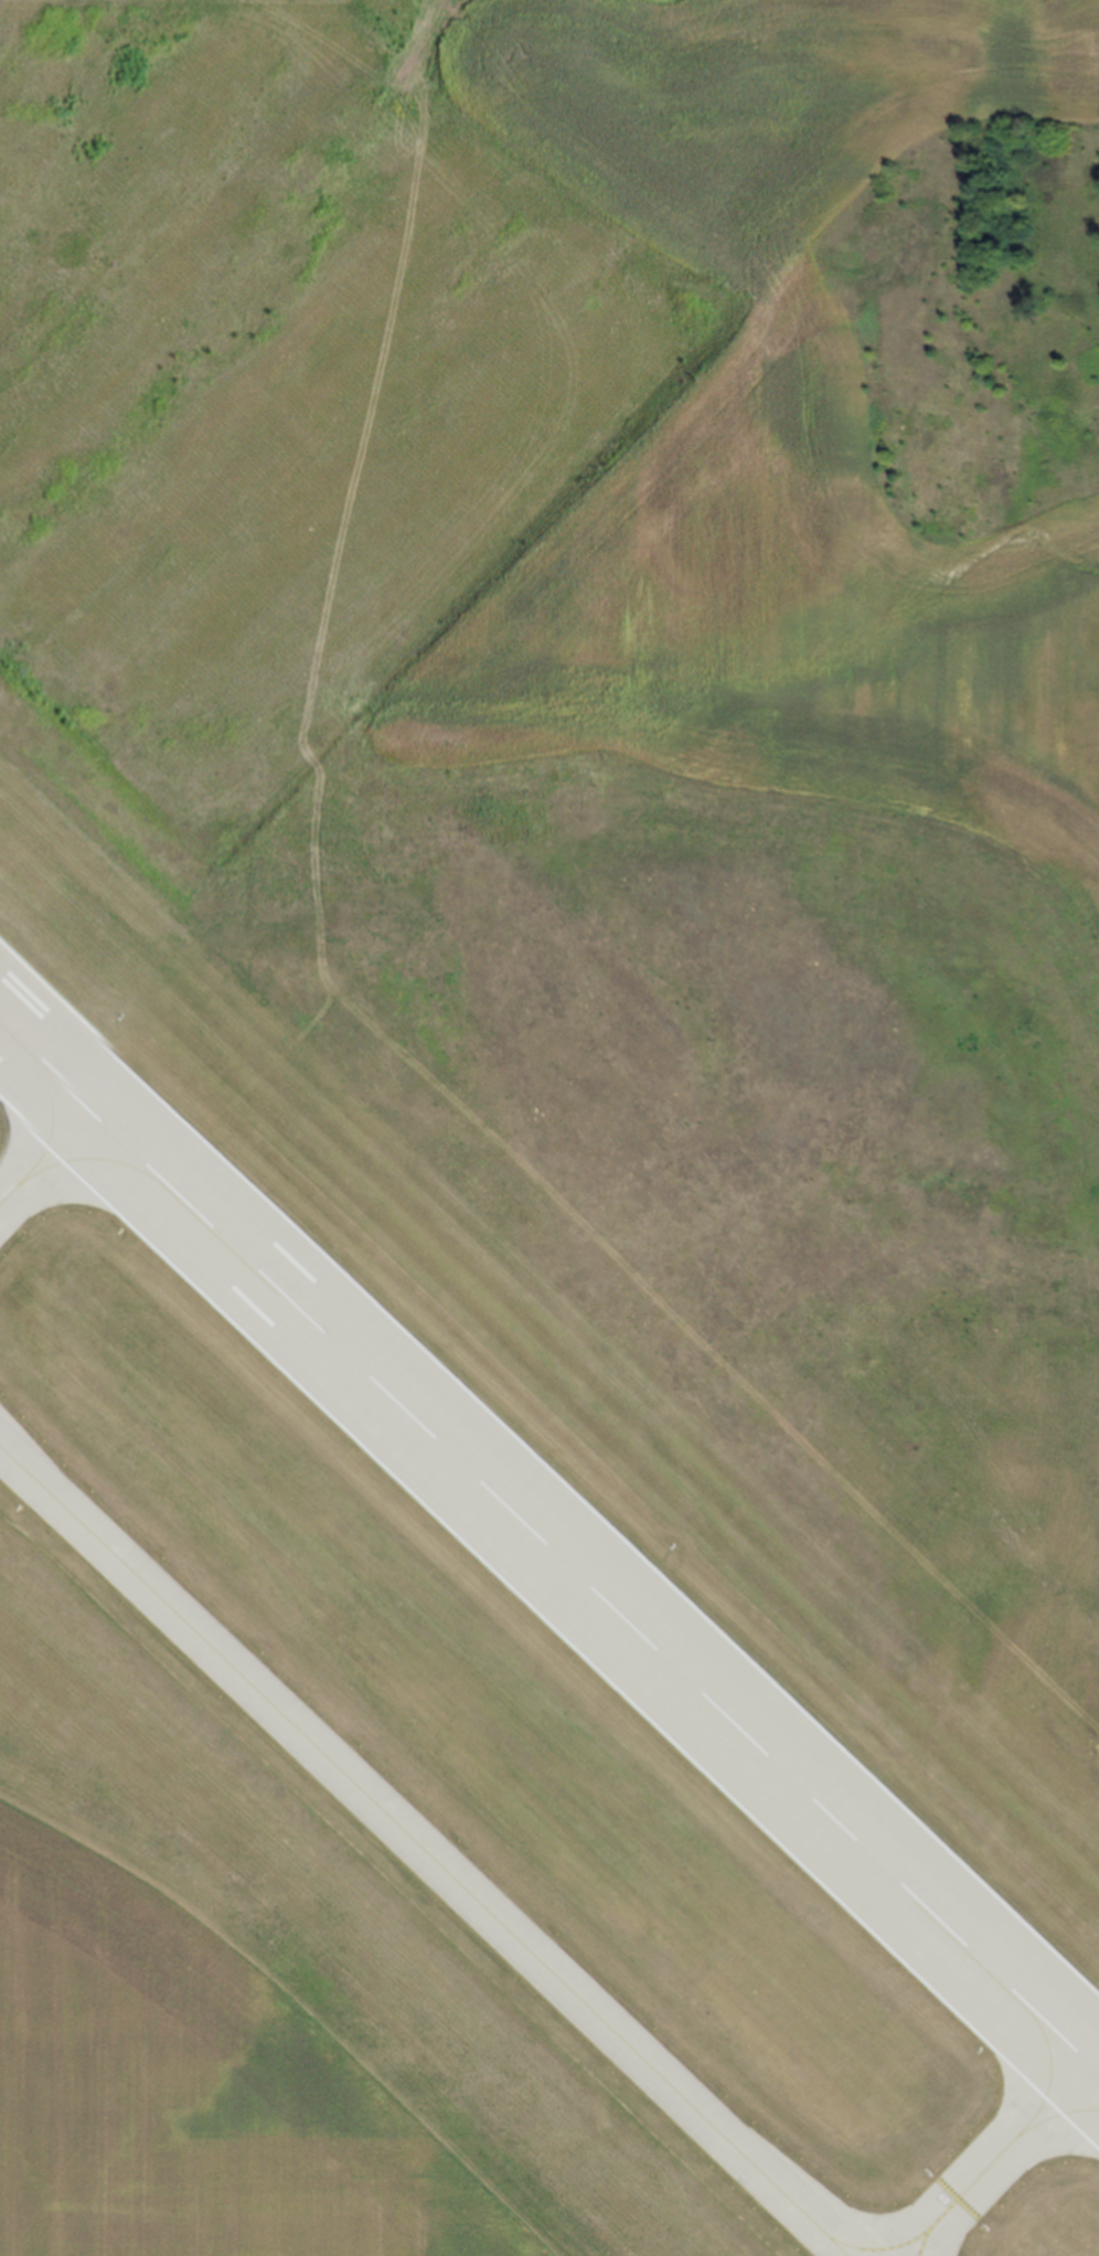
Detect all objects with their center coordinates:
airport: (549, 1128)
airport taxiway: (44, 1154)
airport runway: (549, 1546)
airport taxiway: (424, 1850)
airport taxiway: (999, 2156)
airport taxiway: (882, 2247)

